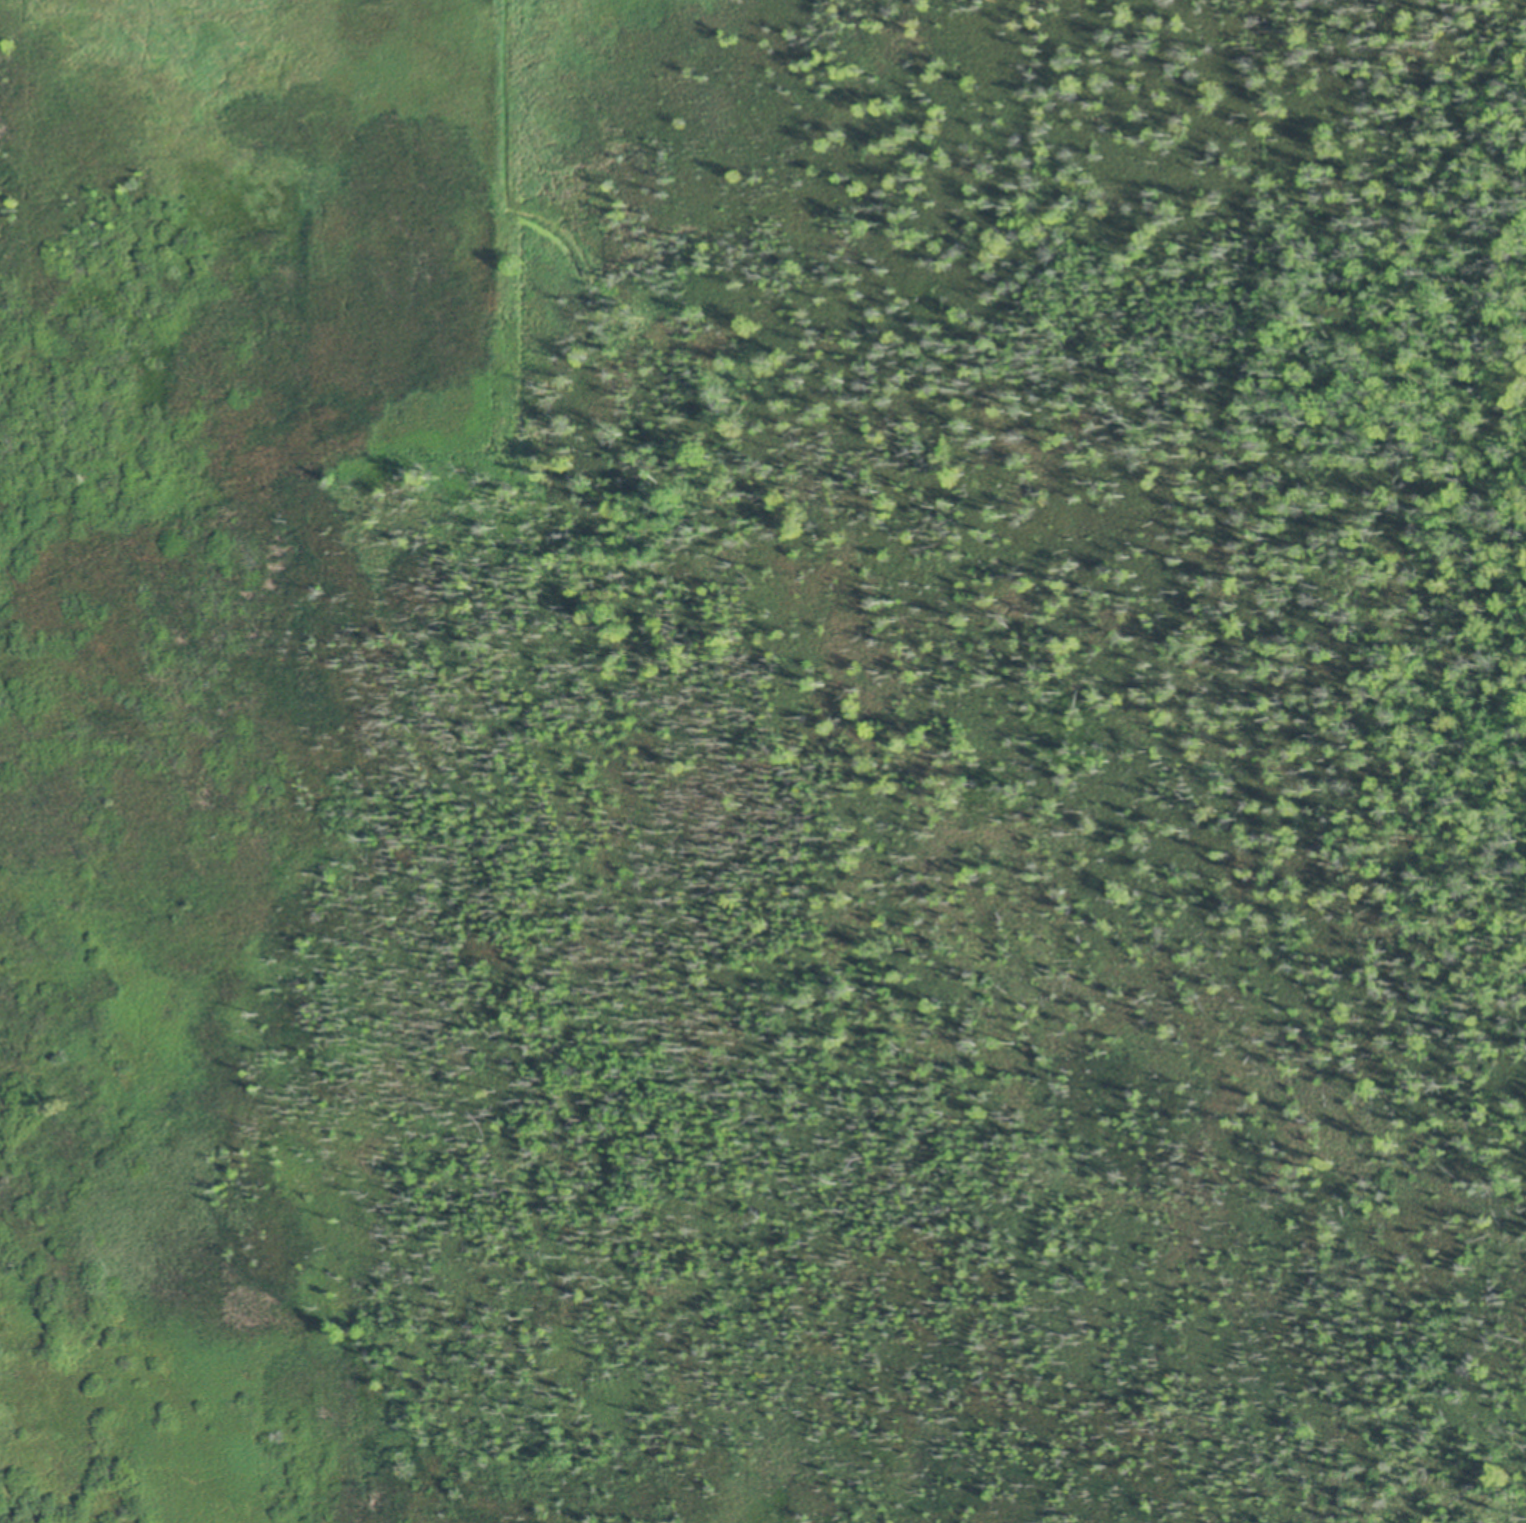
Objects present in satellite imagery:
crop: (161, 14)

